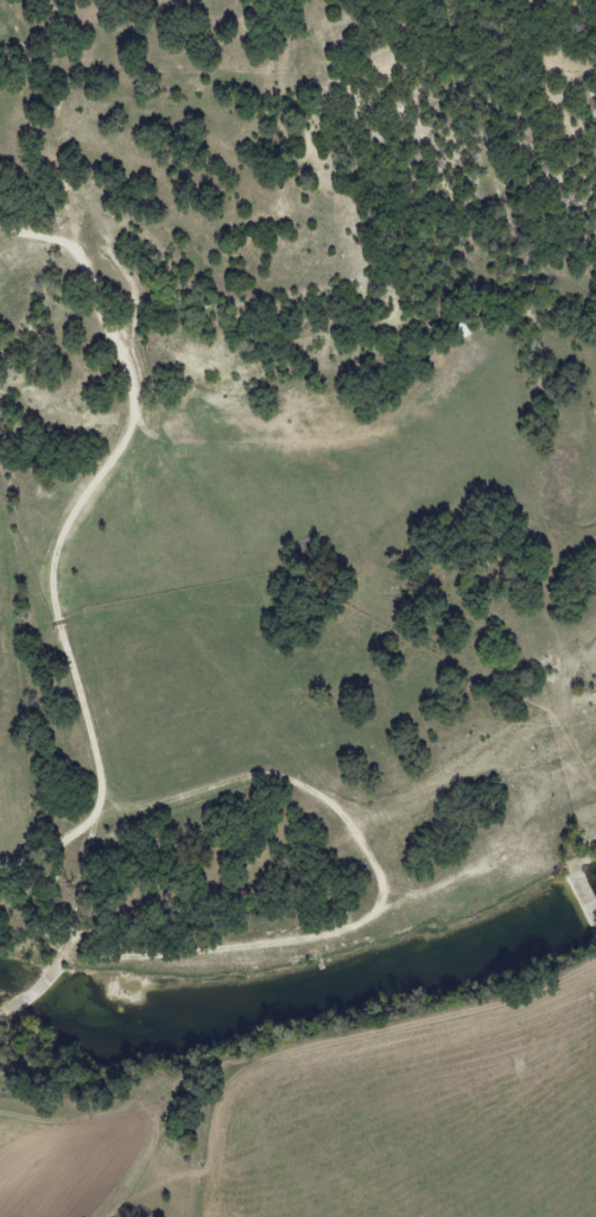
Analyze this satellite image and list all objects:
river: (303, 985)

